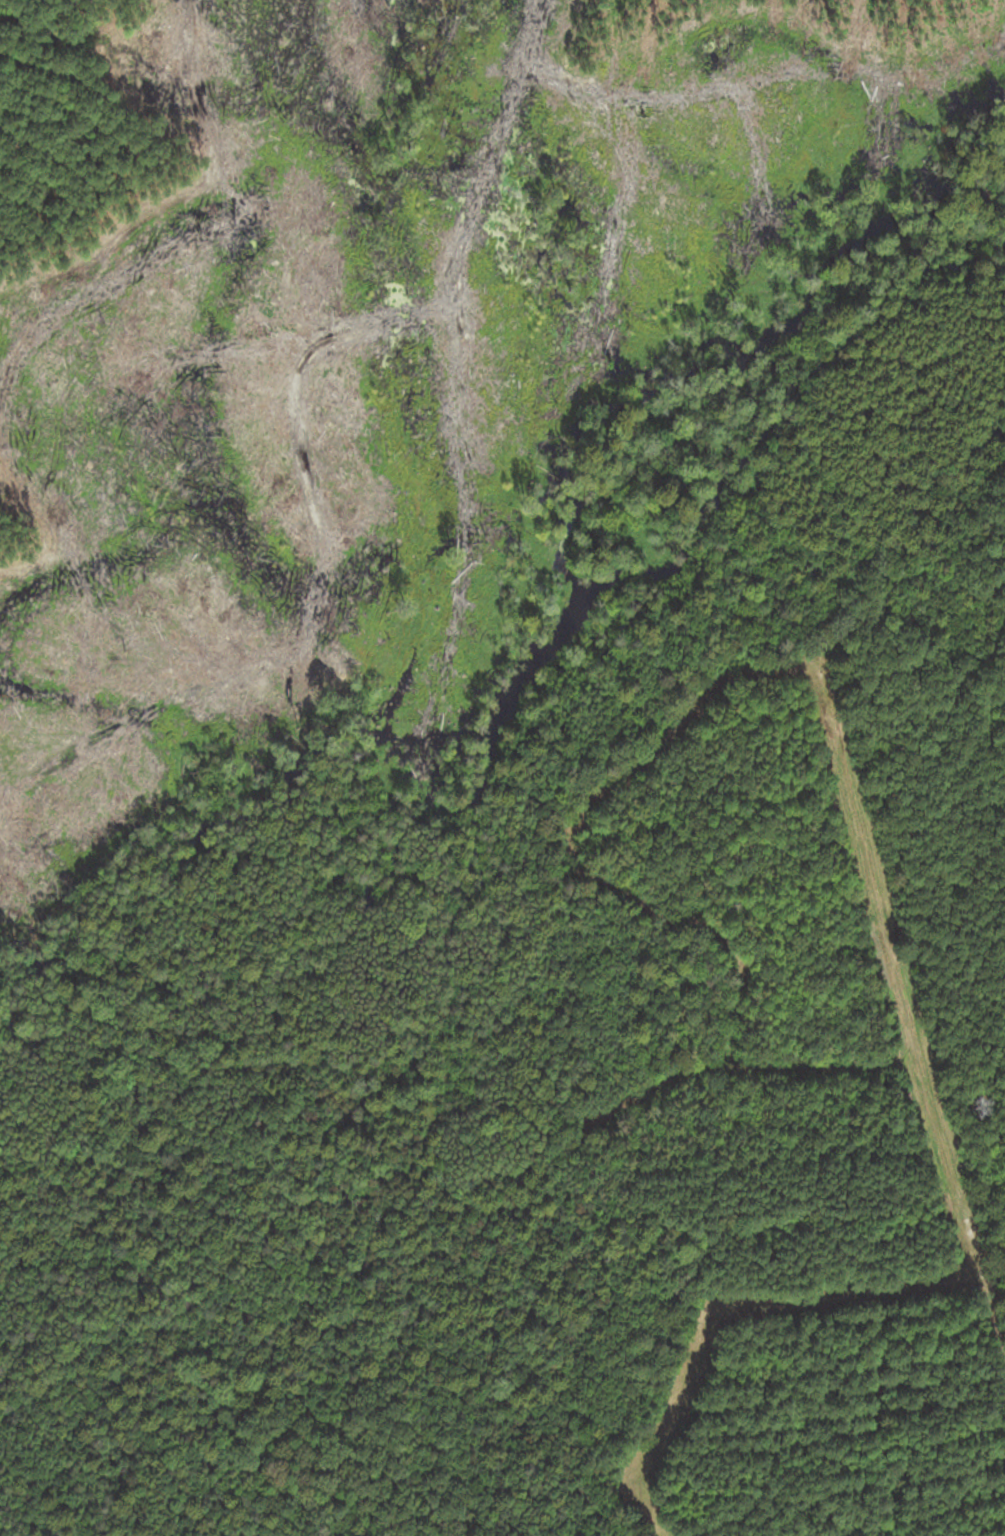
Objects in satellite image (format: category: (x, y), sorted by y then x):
road: (1, 1439)
road: (963, 1493)

